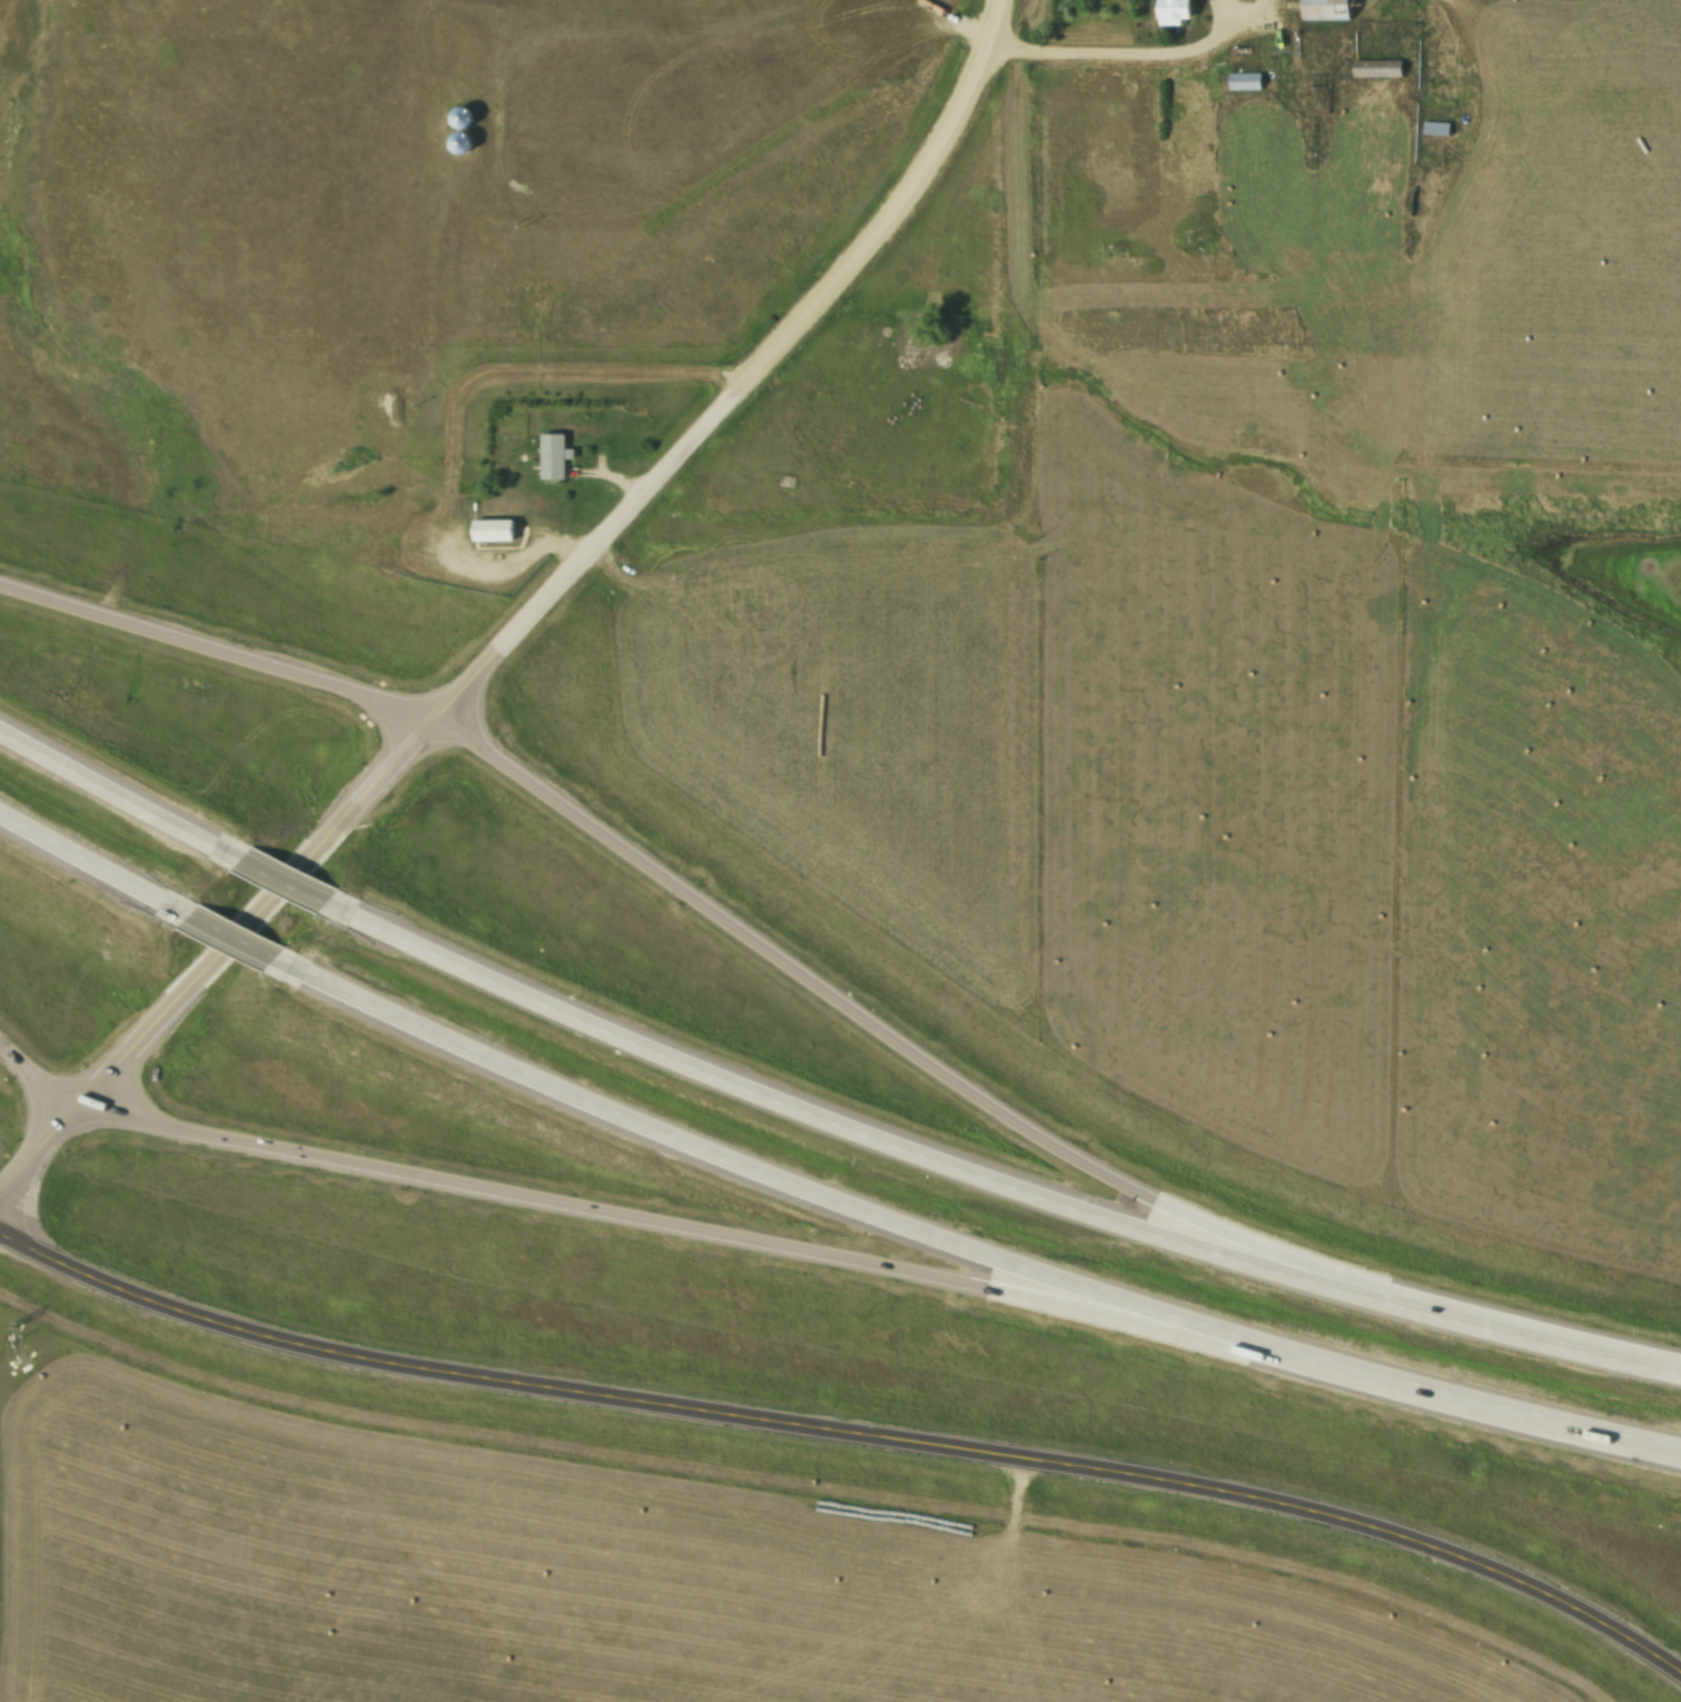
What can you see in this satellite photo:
building: (1329, 9)
building: (1176, 11)
road: (962, 27)
road: (1141, 59)
building: (1381, 68)
building: (1249, 80)
building: (1440, 128)
road: (779, 354)
road: (463, 406)
building: (554, 457)
building: (495, 532)
road: (220, 655)
road: (466, 697)
road: (120, 798)
road: (95, 868)
road: (285, 883)
road: (234, 942)
road: (219, 961)
road: (955, 1083)
road: (989, 1185)
road: (726, 1239)
road: (965, 1248)
road: (847, 1439)

